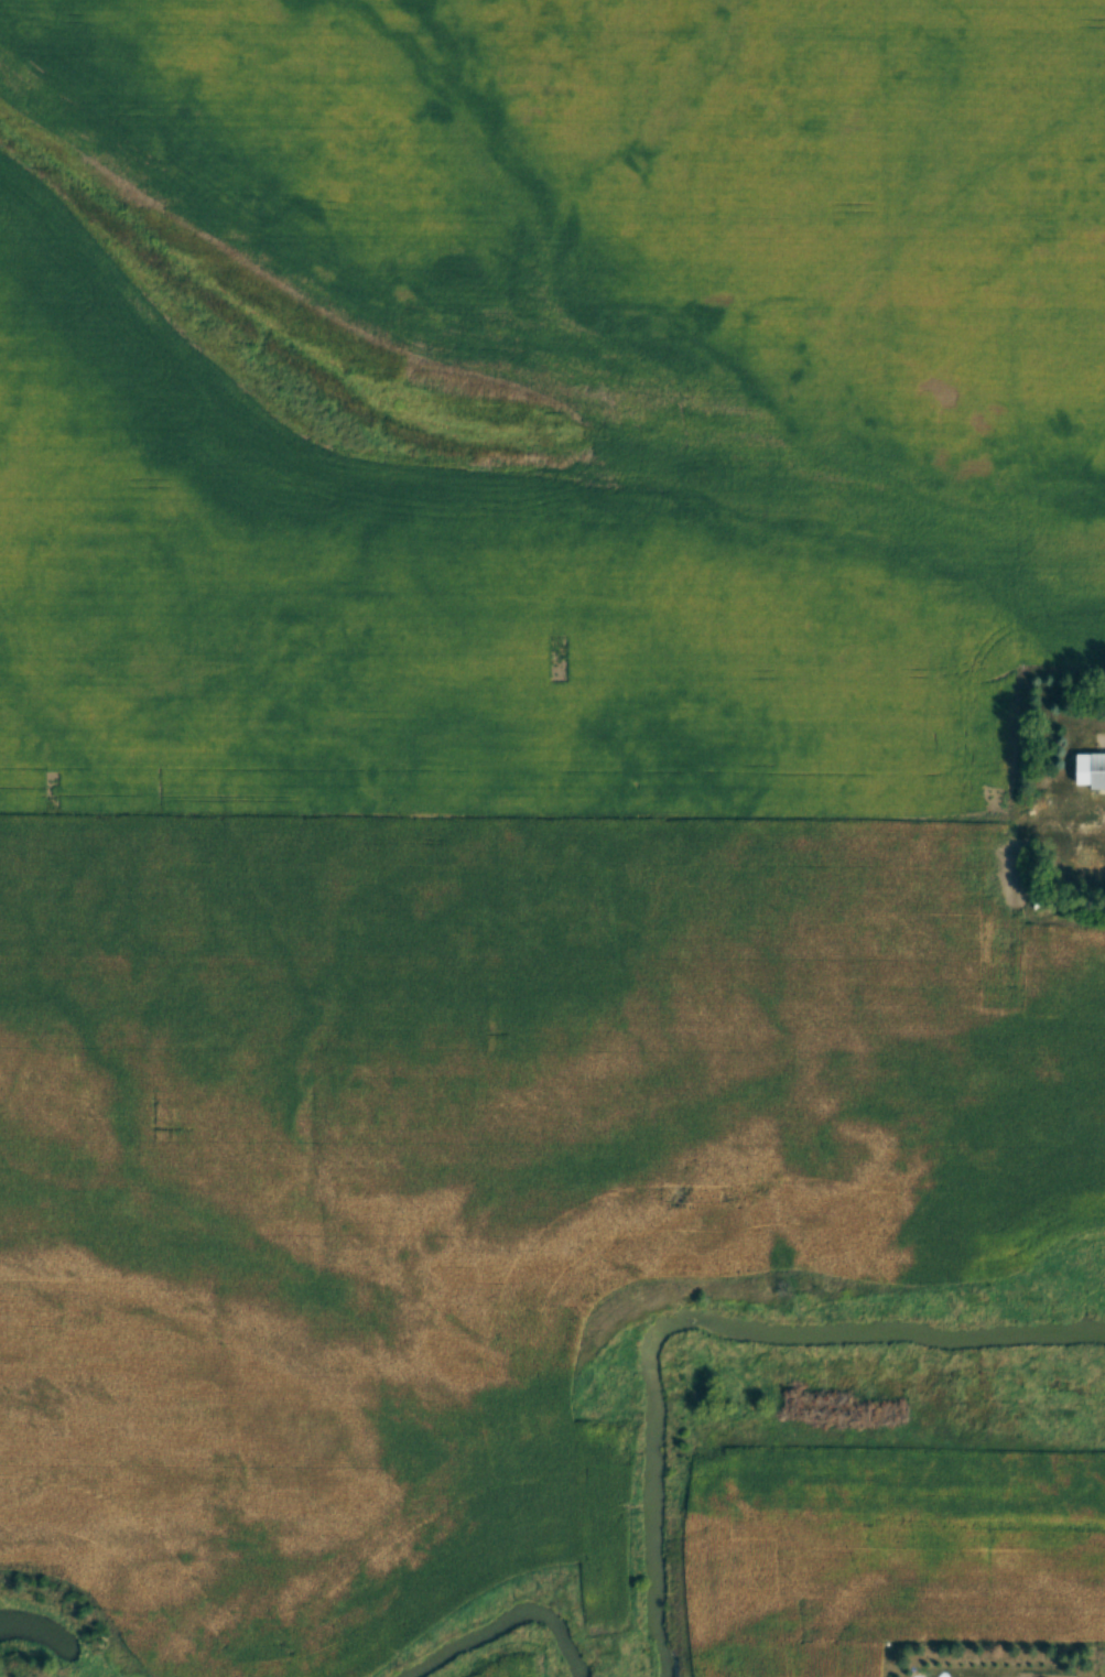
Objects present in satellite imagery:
building: (1091, 772)

